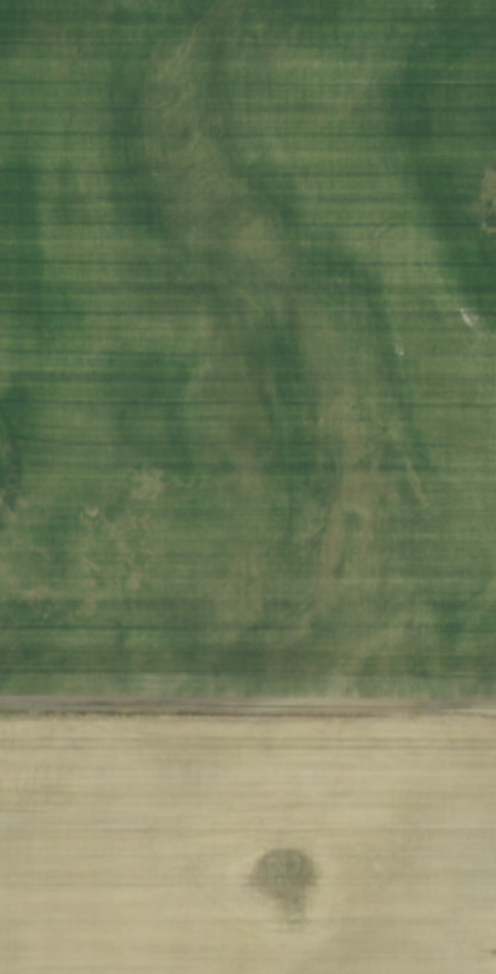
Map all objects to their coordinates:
road: (248, 721)

